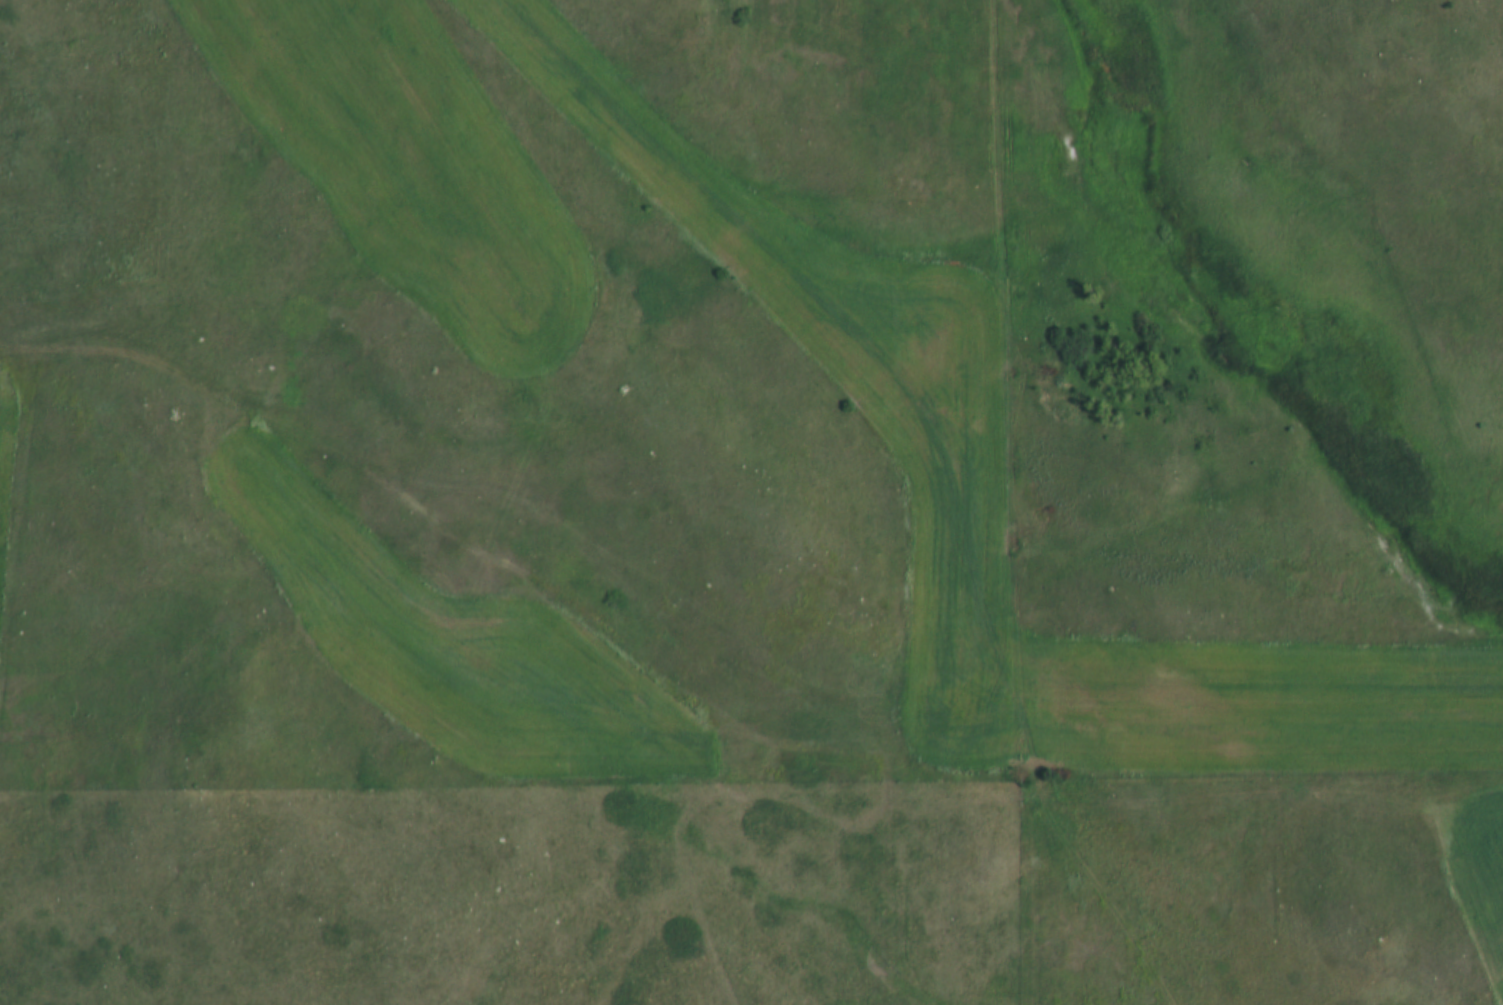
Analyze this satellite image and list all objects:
road: (716, 714)

